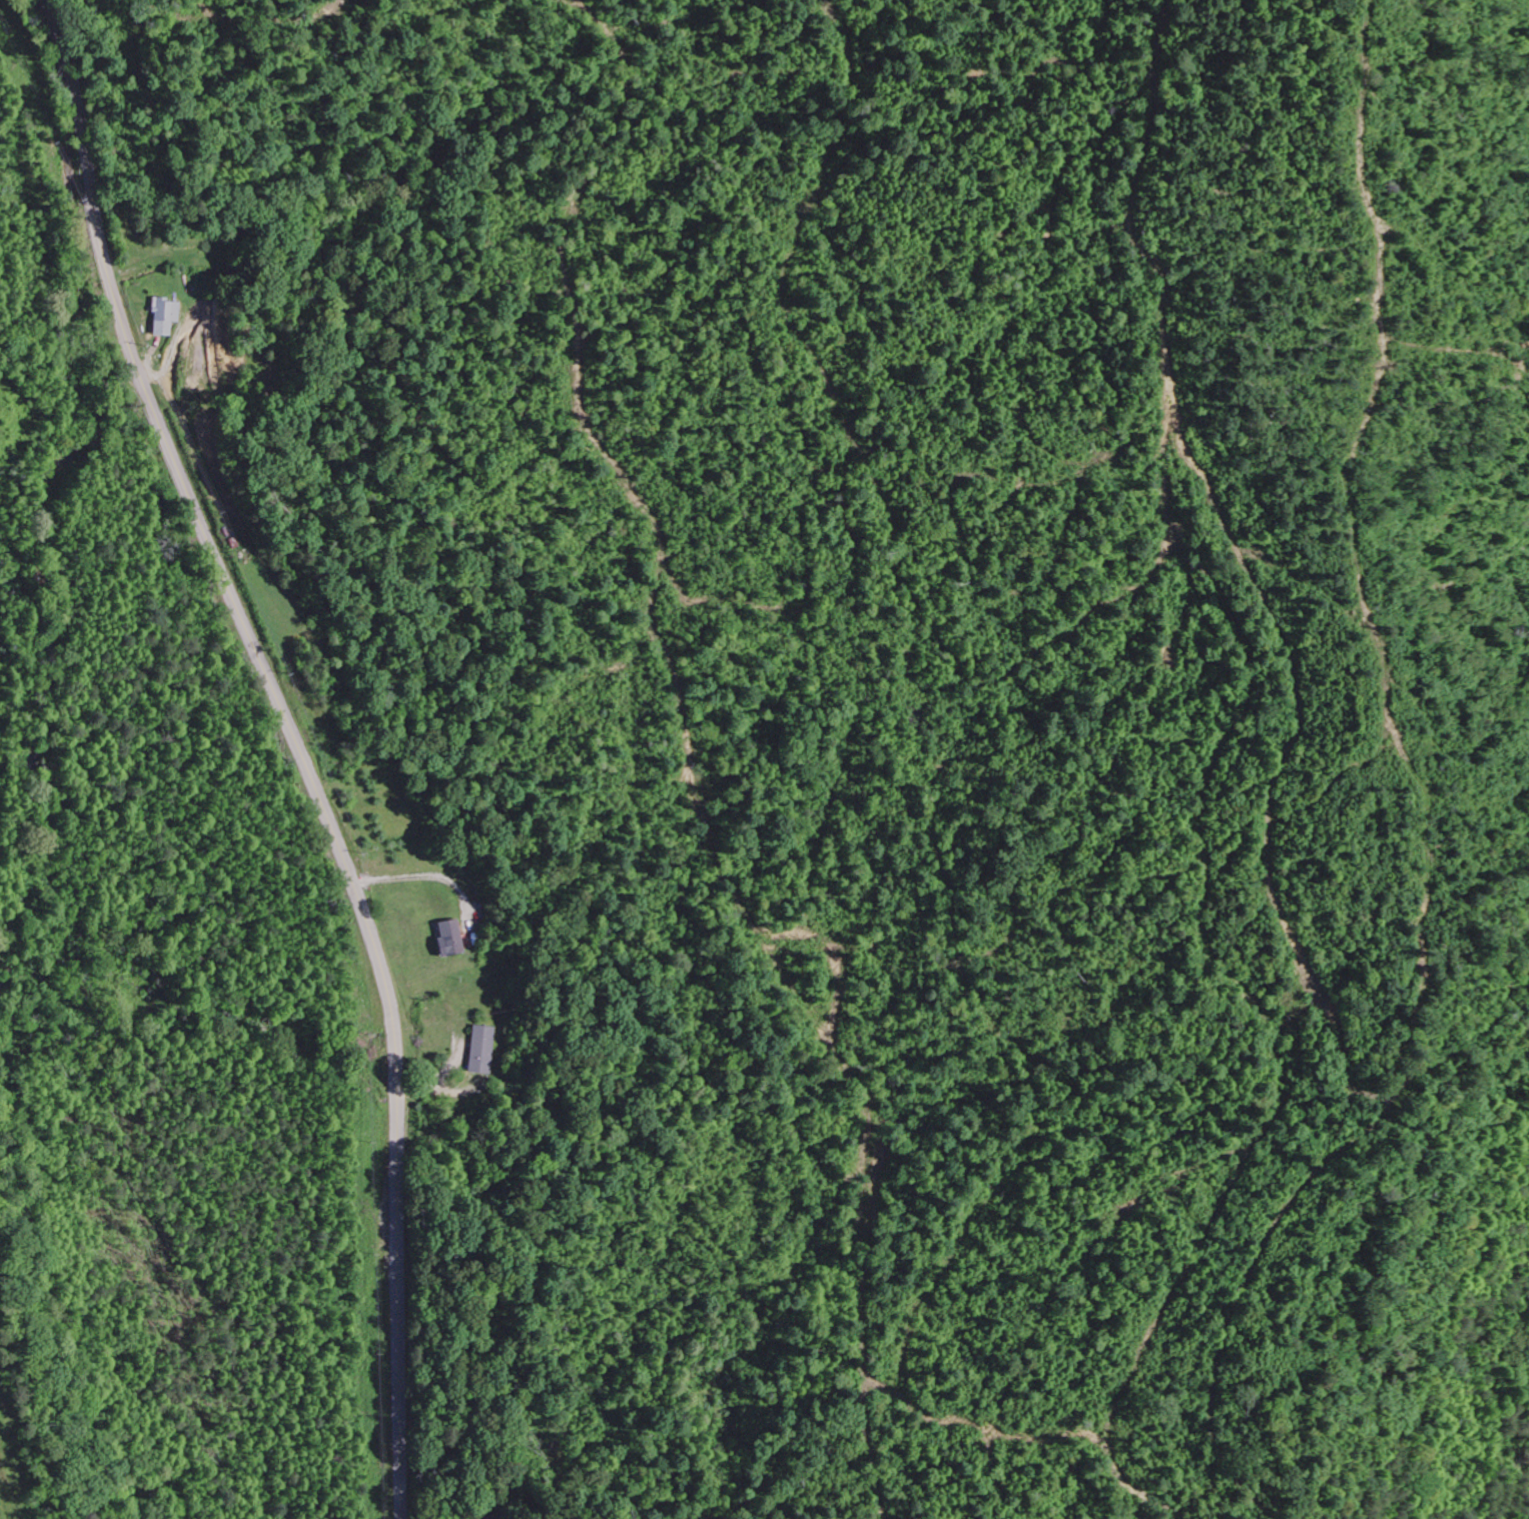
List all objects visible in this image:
building: (164, 317)
road: (298, 744)
building: (448, 938)
building: (480, 1050)

